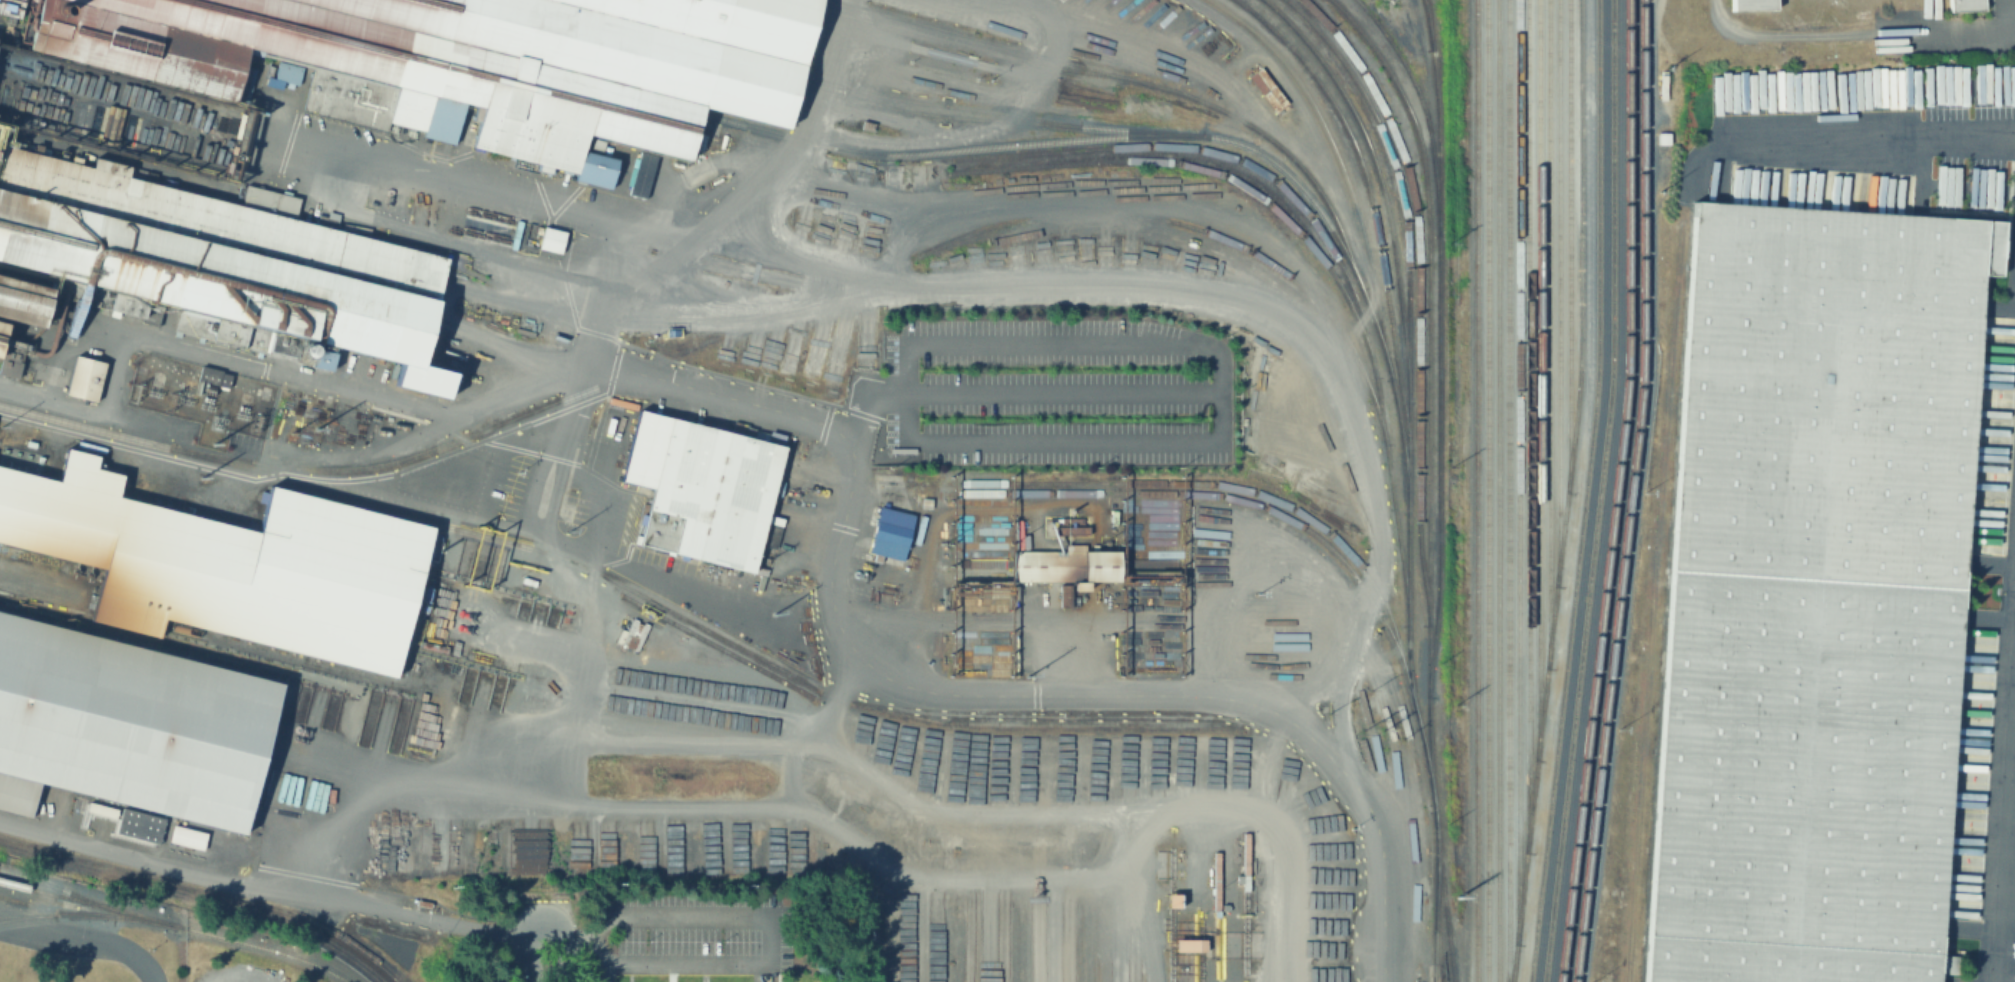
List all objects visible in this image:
building: (1747, 4)
building: (1961, 6)
railway: (1426, 25)
railway: (970, 49)
building: (477, 59)
road: (978, 68)
railway: (1179, 95)
railway: (1421, 108)
building: (412, 110)
railway: (964, 120)
building: (446, 122)
railway: (1115, 129)
road: (1871, 137)
railway: (841, 151)
building: (641, 174)
railway: (1216, 175)
road: (758, 179)
railway: (1378, 182)
road: (483, 189)
road: (1027, 210)
railway: (1373, 221)
railway: (1358, 232)
railway: (1319, 233)
building: (553, 242)
railway: (1568, 245)
railway: (1211, 251)
building: (218, 259)
road: (816, 263)
railway: (1190, 275)
road: (1012, 284)
railway: (1558, 291)
railway: (826, 293)
road: (796, 294)
railway: (1419, 295)
building: (23, 303)
railway: (1549, 331)
railway: (1428, 333)
building: (4, 340)
building: (304, 350)
road: (1215, 352)
building: (322, 359)
road: (269, 368)
building: (213, 376)
railway: (1538, 378)
building: (88, 380)
parking lot: (1057, 393)
power substation: (199, 394)
railway: (1439, 402)
railway: (1530, 424)
railway: (1520, 470)
road: (283, 472)
railway: (1408, 473)
railway: (1193, 480)
railway: (1476, 490)
railway: (1488, 491)
railway: (1498, 491)
railway: (1509, 491)
railway: (1566, 492)
railway: (1584, 492)
railway: (1599, 492)
railway: (1614, 492)
railway: (1628, 492)
building: (707, 493)
railway: (1248, 498)
building: (893, 532)
building: (222, 565)
road: (30, 577)
railway: (623, 588)
building: (1810, 594)
building: (633, 634)
railway: (714, 648)
railway: (1398, 654)
road: (976, 691)
road: (574, 699)
road: (823, 721)
building: (131, 724)
road: (1081, 812)
building: (138, 825)
building: (186, 836)
road: (1141, 844)
road: (893, 868)
road: (271, 887)
railway: (206, 890)
railway: (57, 892)
road: (1283, 893)
railway: (1432, 898)
railway: (195, 899)
railway: (82, 915)
railway: (29, 916)
railway: (56, 917)
road: (764, 921)
railway: (173, 927)
road: (2012, 937)
road: (85, 942)
building: (1189, 944)
road: (563, 950)
road: (1150, 950)
road: (531, 951)
road: (604, 970)

